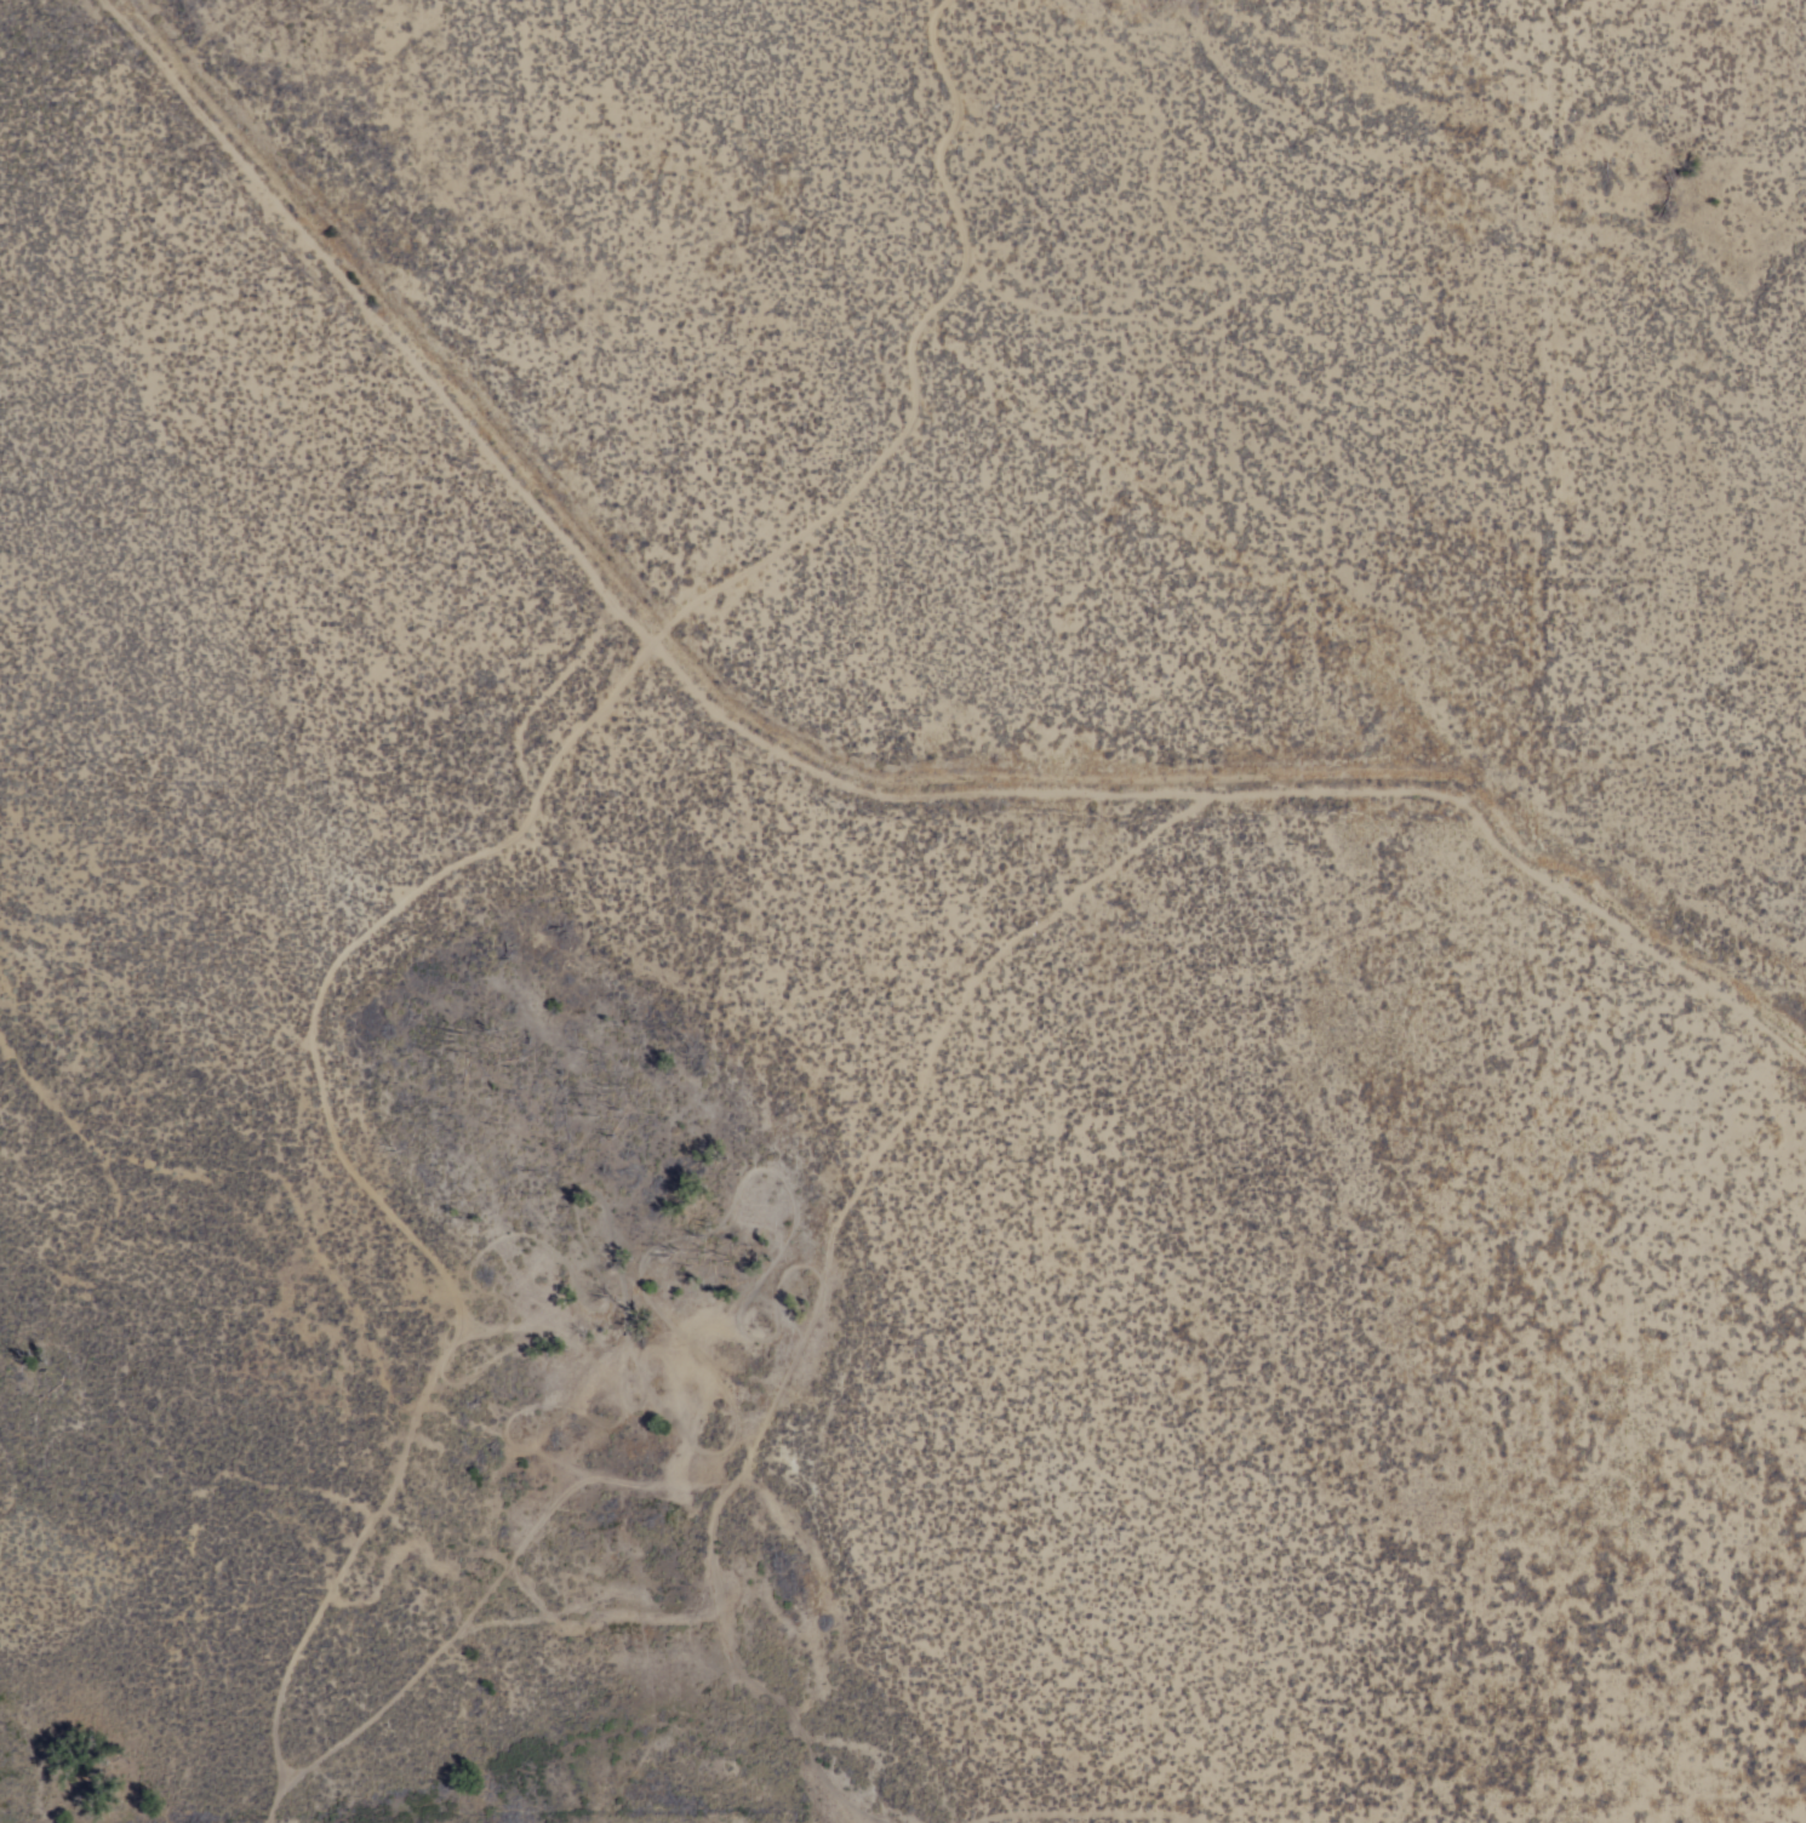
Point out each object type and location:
road: (561, 691)
road: (833, 772)
road: (482, 856)
road: (782, 1395)

